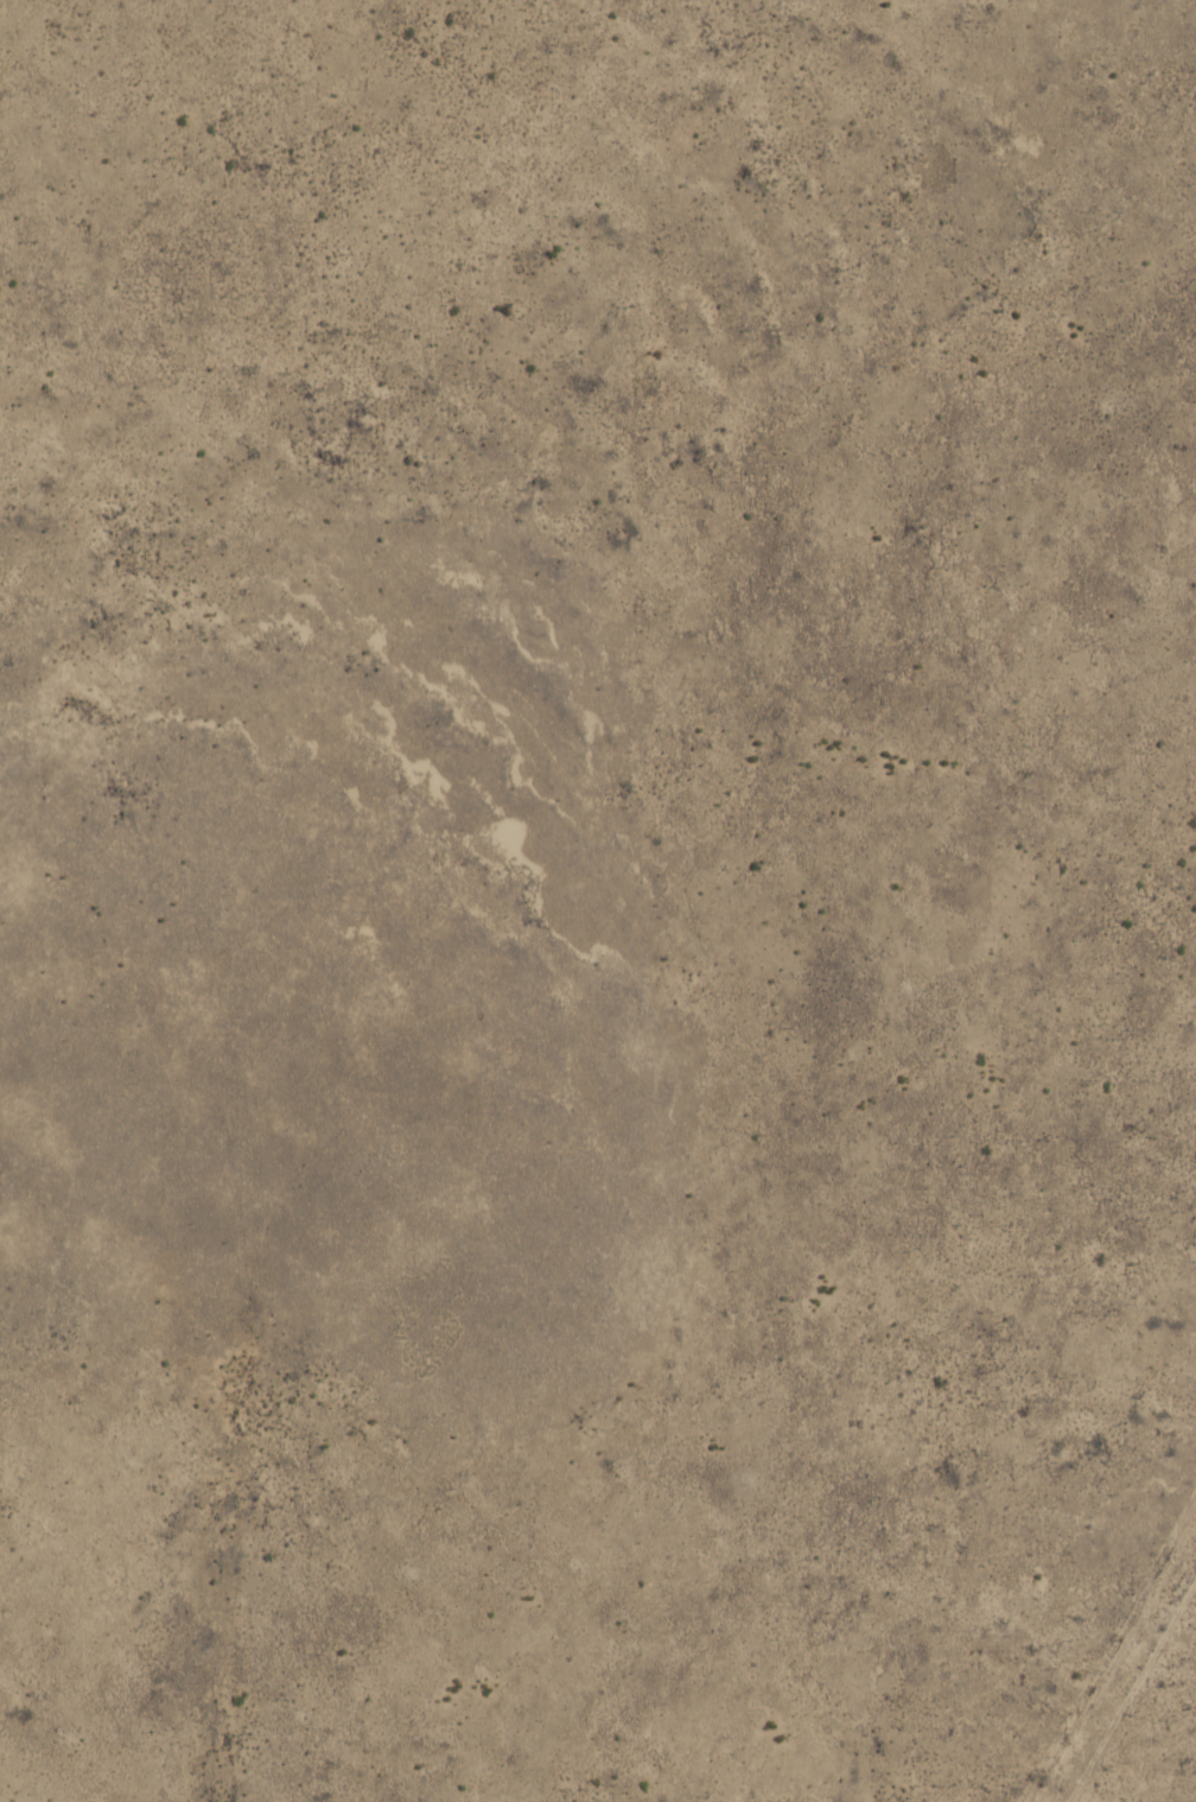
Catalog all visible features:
road: (1128, 1687)

